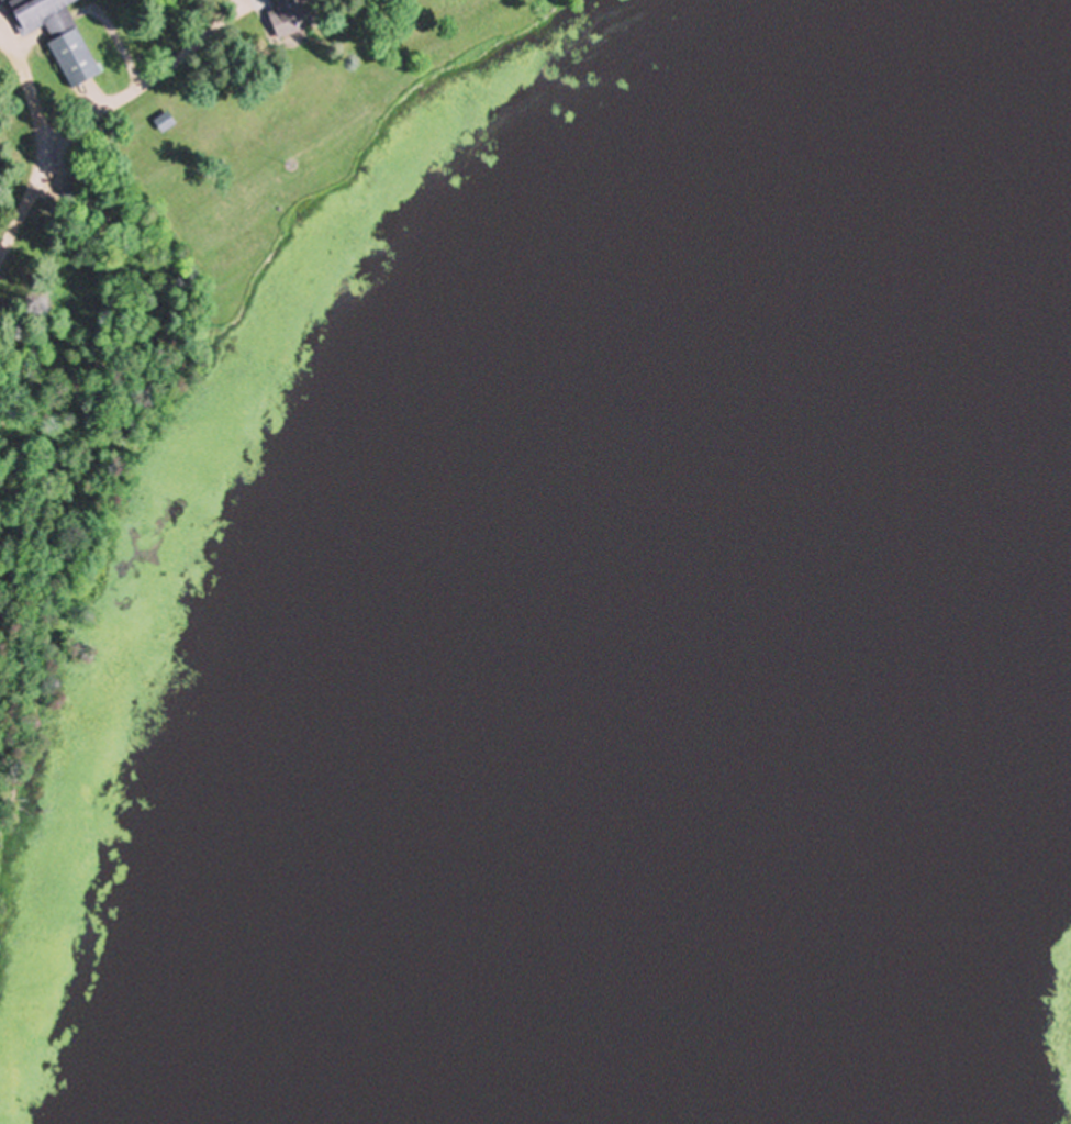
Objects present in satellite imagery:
building: (286, 18)
building: (53, 34)
road: (103, 103)

